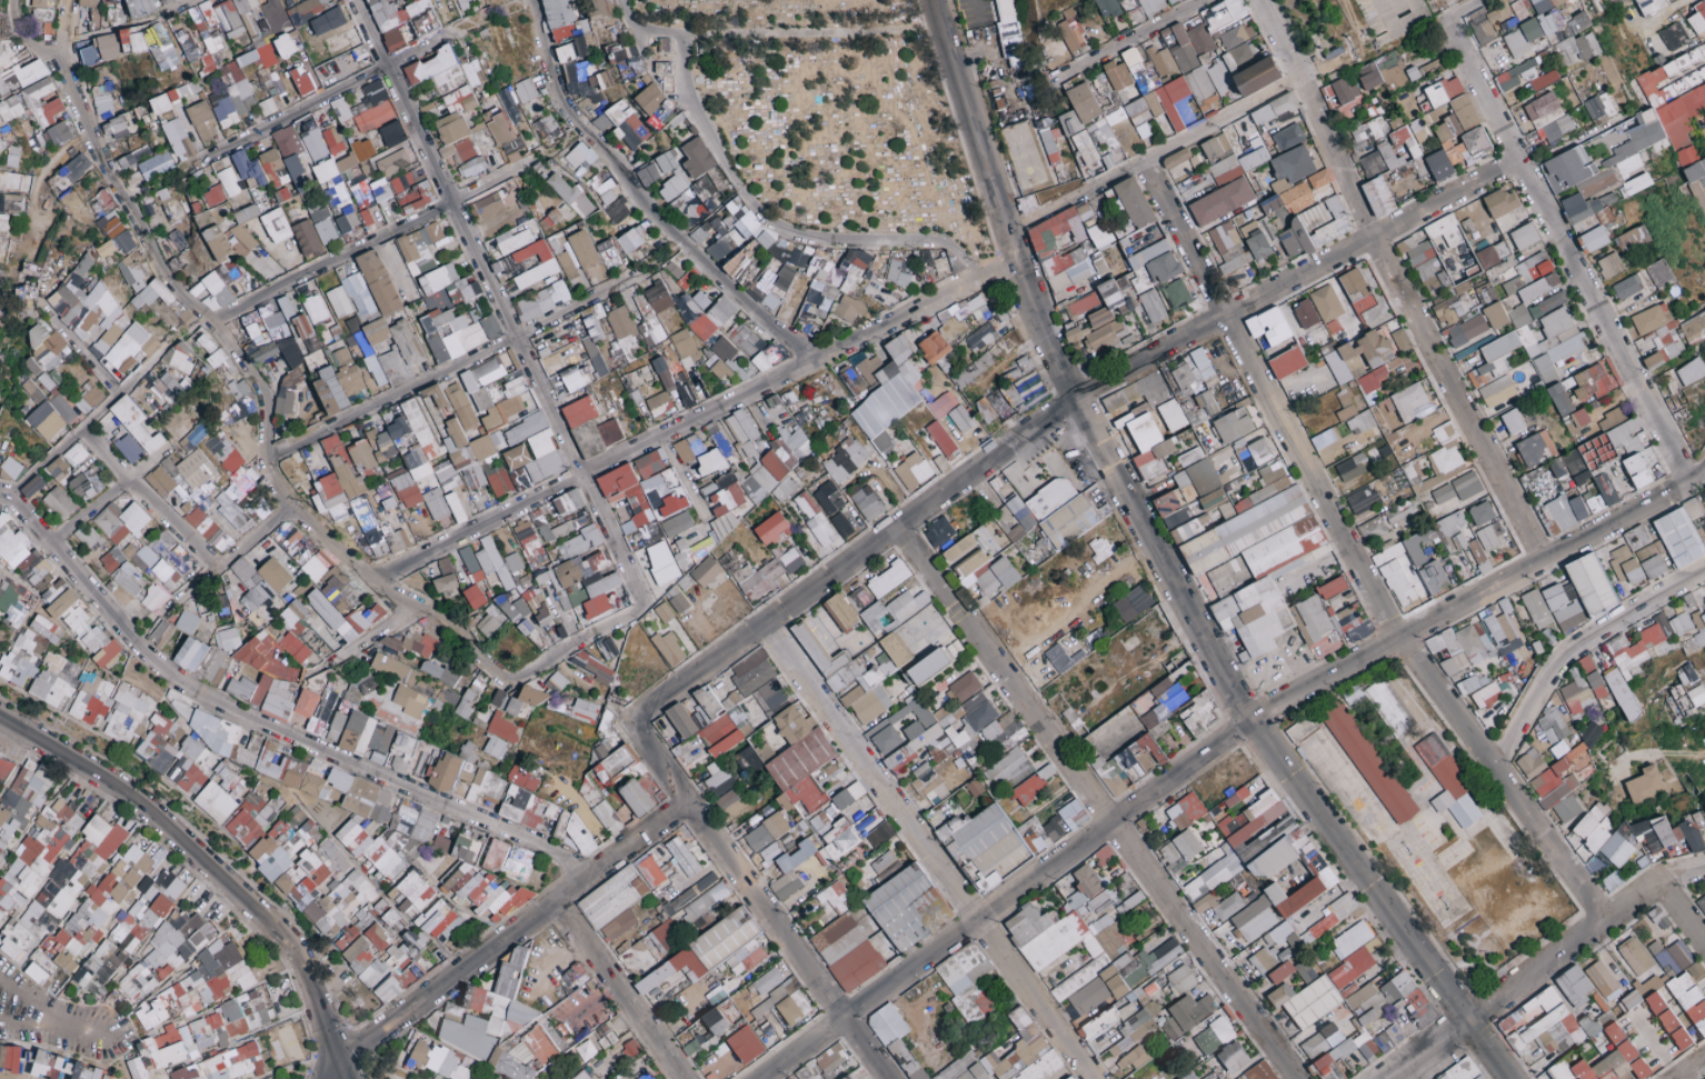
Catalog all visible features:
park: (825, 110)

